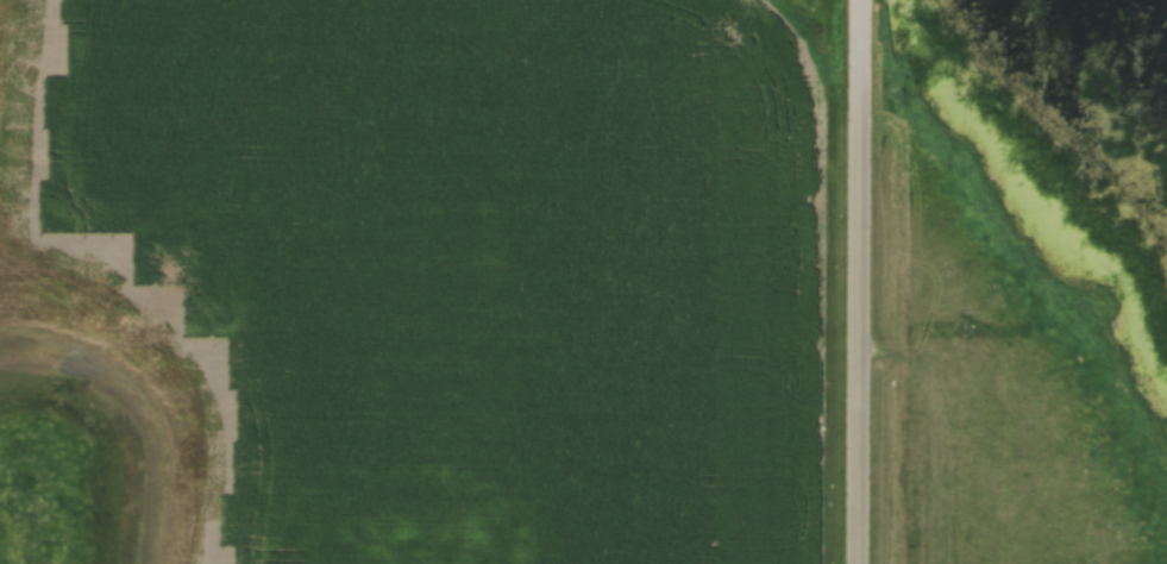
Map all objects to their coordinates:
road: (855, 281)

